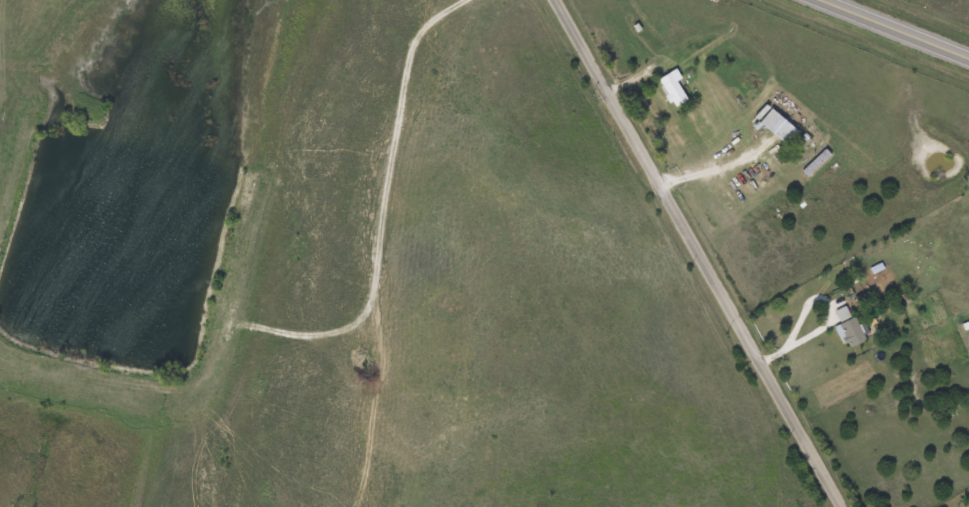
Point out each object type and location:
road: (888, 31)
building: (671, 88)
building: (776, 126)
road: (705, 168)
road: (698, 252)
building: (848, 327)
road: (794, 341)

